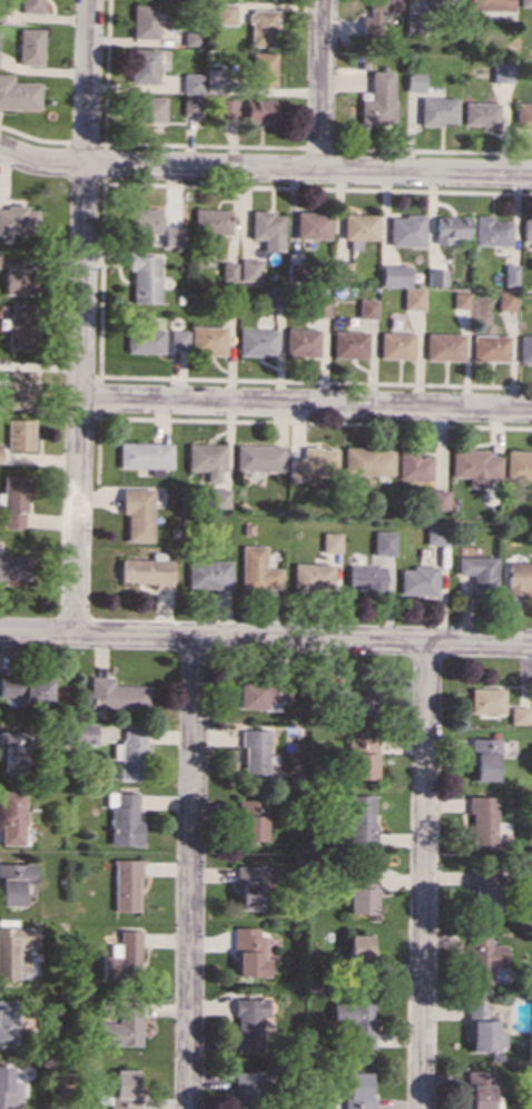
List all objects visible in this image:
building: (440, 1)
building: (524, 3)
building: (487, 4)
building: (31, 6)
building: (225, 13)
building: (376, 14)
building: (144, 20)
building: (262, 28)
building: (29, 46)
building: (142, 65)
building: (263, 69)
building: (413, 81)
building: (191, 82)
road: (321, 86)
building: (18, 94)
building: (377, 99)
building: (190, 105)
building: (227, 108)
building: (149, 109)
building: (257, 110)
building: (436, 110)
building: (480, 115)
building: (523, 115)
road: (264, 169)
building: (18, 219)
building: (144, 220)
building: (211, 222)
building: (312, 225)
building: (357, 226)
building: (449, 228)
building: (526, 228)
building: (266, 229)
building: (404, 230)
building: (490, 232)
building: (173, 236)
building: (227, 271)
building: (249, 271)
building: (508, 274)
building: (393, 275)
building: (434, 277)
building: (144, 278)
building: (19, 282)
building: (411, 298)
building: (459, 300)
building: (504, 301)
building: (318, 307)
building: (365, 308)
road: (81, 316)
building: (21, 325)
building: (144, 340)
building: (177, 340)
building: (207, 340)
building: (256, 342)
building: (301, 343)
building: (348, 344)
building: (395, 345)
building: (442, 346)
building: (489, 347)
building: (523, 349)
building: (19, 390)
road: (305, 404)
building: (20, 434)
building: (0, 449)
building: (142, 455)
building: (257, 457)
building: (205, 459)
building: (366, 461)
building: (312, 464)
building: (518, 464)
building: (412, 465)
building: (473, 465)
building: (218, 498)
building: (434, 500)
building: (13, 501)
building: (137, 513)
building: (435, 534)
building: (331, 542)
building: (383, 542)
building: (14, 567)
building: (256, 569)
building: (477, 571)
building: (145, 572)
building: (207, 573)
building: (312, 577)
building: (519, 577)
building: (365, 578)
building: (417, 581)
road: (266, 638)
building: (26, 688)
building: (259, 694)
building: (115, 695)
building: (486, 700)
building: (358, 701)
building: (519, 715)
building: (83, 733)
building: (11, 752)
building: (130, 752)
building: (253, 755)
building: (361, 757)
building: (484, 758)
building: (11, 817)
building: (124, 818)
building: (249, 820)
building: (359, 821)
building: (482, 823)
road: (190, 873)
road: (423, 875)
building: (362, 877)
building: (13, 882)
building: (126, 884)
building: (248, 885)
building: (483, 890)
building: (359, 900)
building: (357, 948)
building: (13, 949)
building: (248, 952)
building: (121, 956)
building: (483, 958)
building: (8, 1020)
building: (248, 1022)
building: (356, 1025)
building: (121, 1027)
building: (482, 1029)
building: (246, 1085)
building: (8, 1090)
building: (124, 1090)
building: (480, 1090)
building: (355, 1091)

